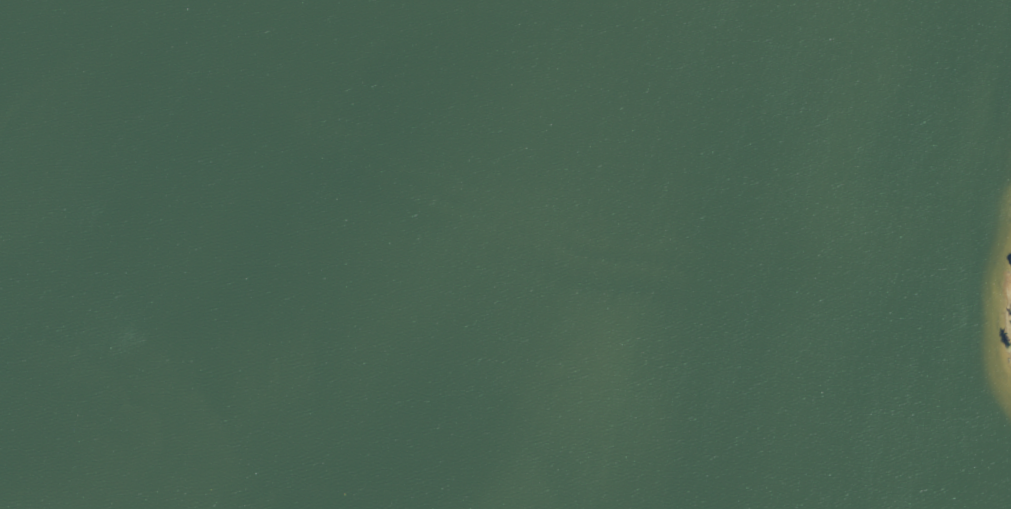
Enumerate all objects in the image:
river: (48, 369)

